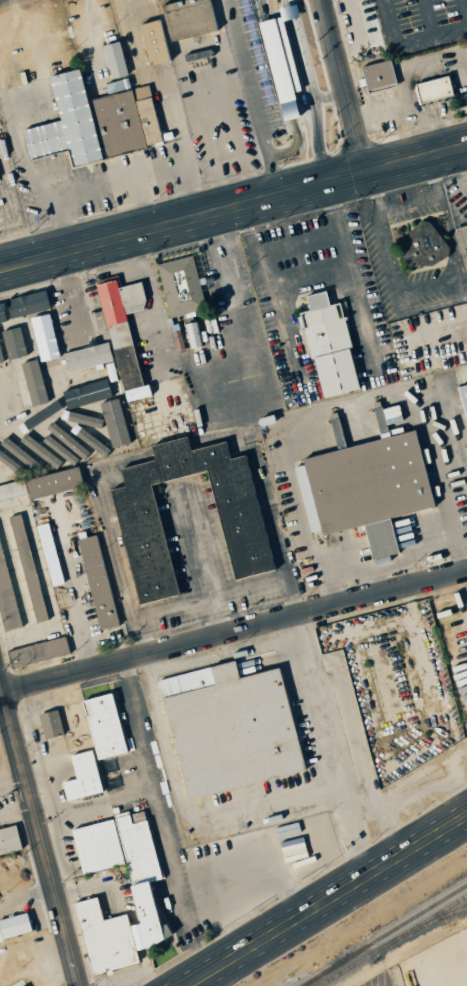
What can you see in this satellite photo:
road: (0, 0)
building: (186, 18)
building: (151, 42)
road: (409, 42)
building: (114, 59)
building: (278, 65)
building: (377, 75)
road: (344, 87)
building: (431, 89)
building: (93, 121)
road: (28, 166)
road: (142, 178)
road: (145, 204)
road: (233, 209)
building: (462, 241)
building: (417, 244)
road: (308, 285)
building: (179, 286)
building: (87, 296)
building: (28, 305)
building: (1, 316)
building: (121, 334)
building: (38, 337)
building: (13, 343)
building: (326, 346)
building: (1, 350)
building: (85, 357)
building: (19, 381)
building: (5, 389)
building: (78, 392)
building: (462, 403)
building: (108, 422)
building: (381, 430)
building: (335, 433)
building: (71, 441)
building: (53, 447)
building: (465, 453)
building: (21, 454)
building: (9, 463)
building: (42, 485)
building: (362, 489)
building: (240, 530)
building: (48, 554)
building: (27, 568)
building: (97, 582)
road: (72, 589)
building: (6, 598)
road: (235, 631)
building: (37, 652)
building: (52, 724)
building: (102, 726)
building: (227, 727)
building: (81, 777)
road: (40, 832)
building: (8, 839)
building: (137, 890)
road: (327, 900)
railway: (428, 923)
building: (13, 926)
railway: (384, 935)
railway: (392, 940)
railway: (313, 980)
building: (18, 984)

